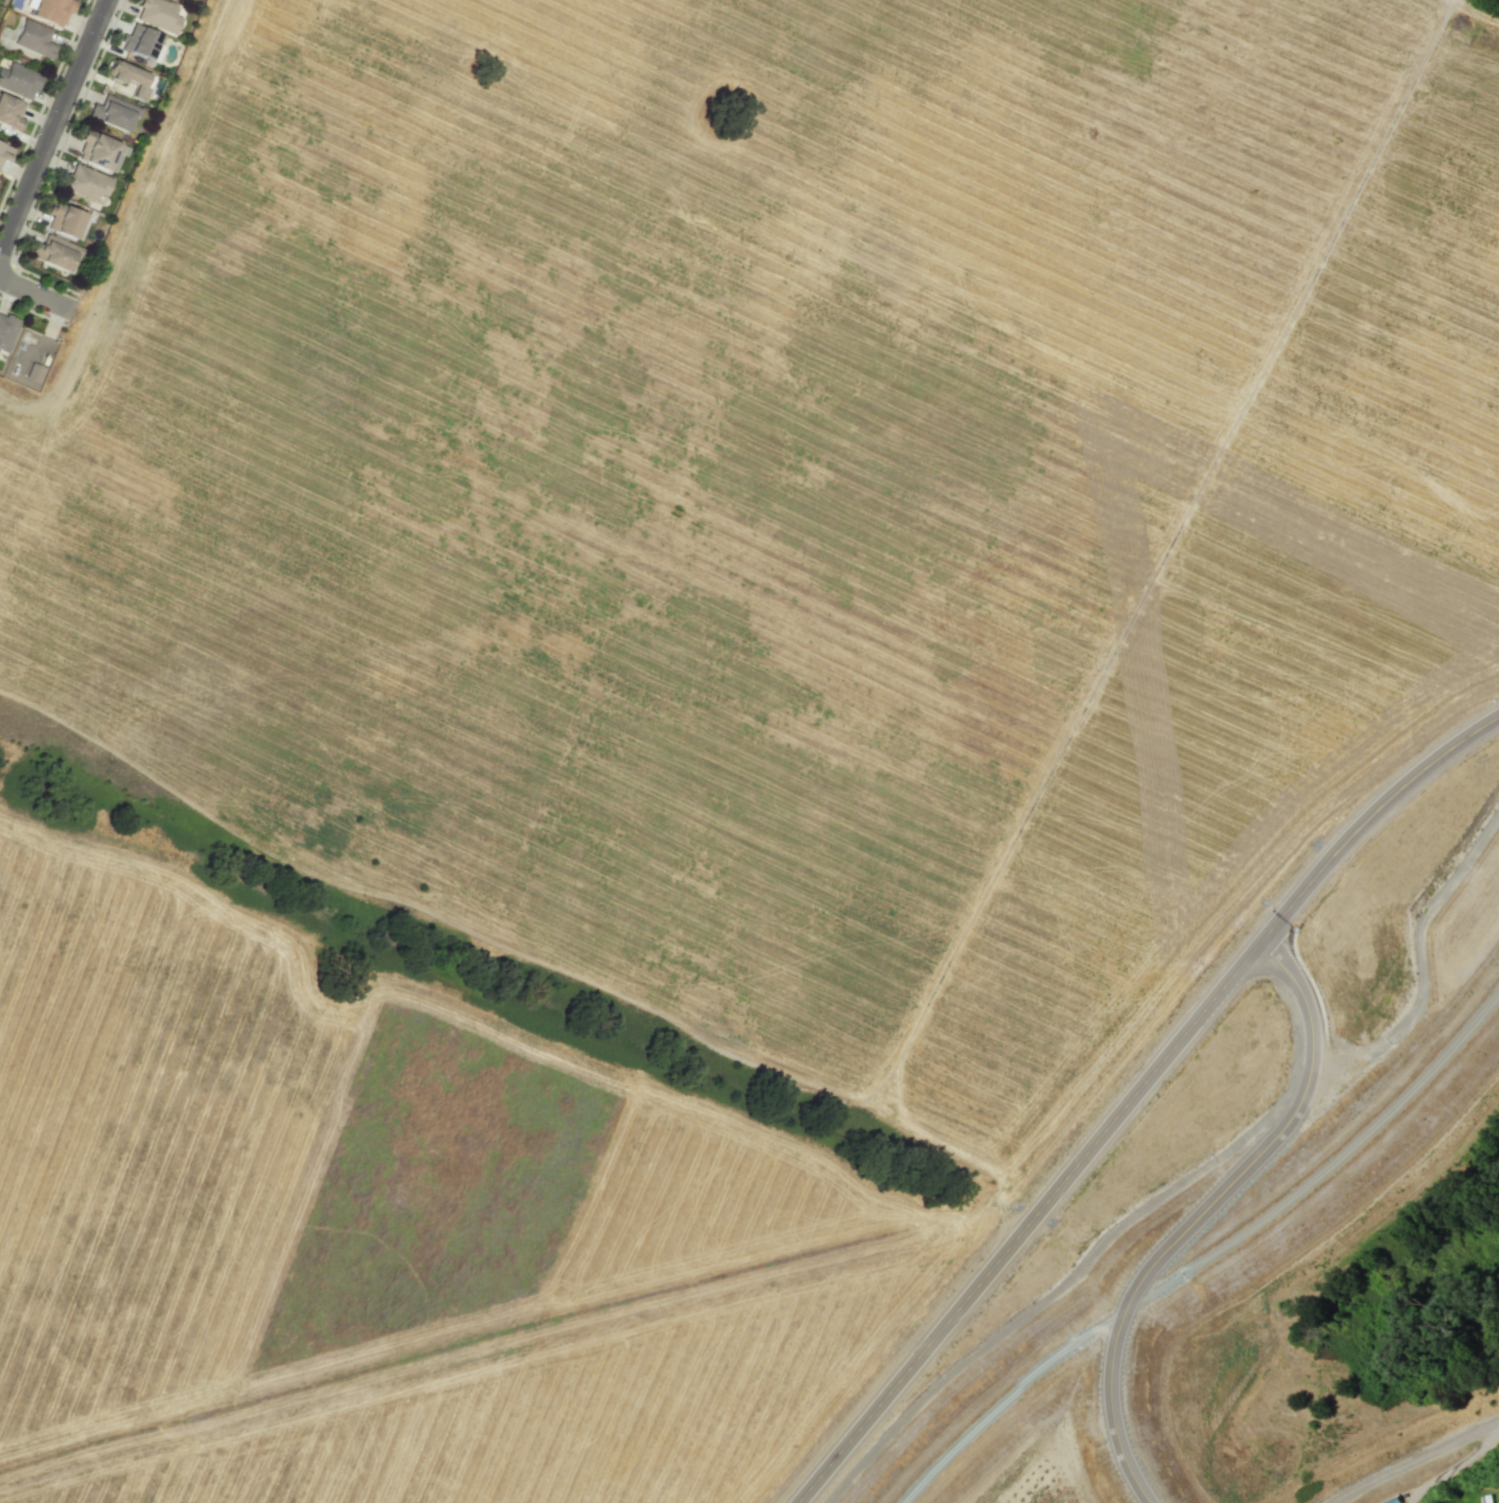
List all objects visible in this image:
building: (48, 9)
building: (157, 15)
building: (33, 38)
building: (138, 41)
building: (130, 78)
building: (18, 80)
building: (6, 109)
building: (112, 112)
road: (52, 123)
building: (97, 150)
building: (4, 152)
building: (86, 182)
building: (63, 220)
building: (55, 253)
road: (35, 292)
road: (1298, 301)
road: (54, 321)
building: (6, 331)
building: (30, 357)
crop: (664, 447)
road: (1015, 834)
road: (529, 967)
road: (1134, 1097)
road: (1200, 1214)
road: (1417, 1458)
road: (1454, 1465)

